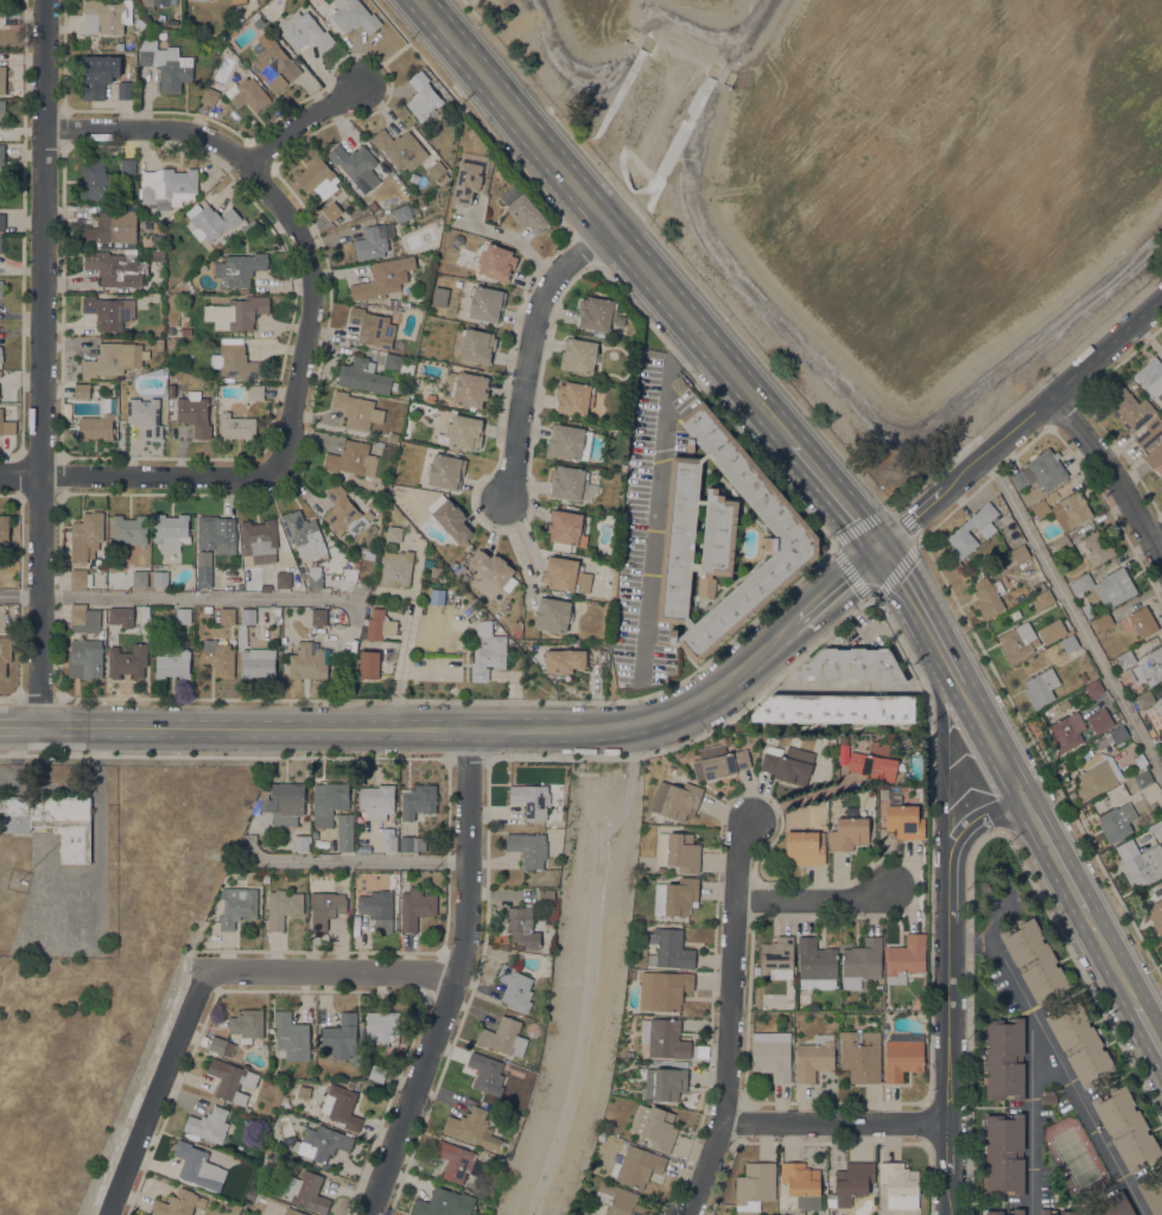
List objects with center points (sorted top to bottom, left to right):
building: (2, 1)
building: (237, 1)
building: (160, 2)
road: (471, 9)
building: (109, 14)
building: (2, 15)
building: (354, 15)
building: (139, 23)
road: (686, 30)
building: (305, 31)
road: (748, 34)
road: (640, 39)
building: (166, 63)
building: (273, 63)
road: (571, 71)
road: (723, 74)
building: (97, 75)
building: (2, 78)
building: (125, 90)
building: (247, 94)
building: (209, 96)
building: (423, 96)
building: (1, 107)
road: (514, 114)
road: (301, 122)
road: (150, 127)
building: (400, 147)
building: (1, 154)
building: (356, 165)
building: (128, 166)
building: (437, 171)
building: (215, 173)
building: (317, 178)
building: (96, 182)
building: (466, 182)
building: (169, 185)
building: (373, 205)
building: (523, 210)
building: (405, 211)
building: (332, 212)
building: (2, 221)
building: (212, 222)
building: (247, 225)
building: (113, 230)
road: (509, 237)
building: (157, 240)
building: (373, 241)
building: (0, 243)
building: (496, 261)
building: (114, 267)
building: (239, 269)
building: (382, 278)
building: (1, 288)
building: (485, 303)
road: (309, 307)
building: (108, 311)
building: (236, 312)
building: (596, 312)
building: (372, 326)
building: (186, 331)
road: (699, 333)
road: (745, 335)
building: (159, 343)
building: (476, 345)
road: (528, 346)
building: (0, 354)
building: (579, 355)
building: (113, 358)
building: (235, 360)
road: (40, 363)
building: (396, 363)
building: (363, 375)
building: (1150, 377)
building: (465, 388)
building: (81, 389)
building: (172, 390)
building: (255, 392)
road: (996, 395)
building: (430, 397)
building: (574, 397)
road: (853, 406)
building: (1129, 408)
building: (357, 409)
building: (145, 413)
building: (195, 413)
building: (97, 424)
road: (1020, 424)
building: (6, 425)
building: (236, 427)
building: (464, 432)
building: (1149, 432)
building: (68, 433)
building: (393, 437)
building: (569, 441)
building: (1154, 454)
building: (351, 458)
building: (1046, 467)
building: (446, 471)
road: (1113, 475)
road: (138, 476)
building: (1161, 477)
building: (1018, 478)
building: (567, 482)
road: (833, 492)
road: (654, 500)
building: (1041, 509)
building: (1071, 510)
building: (344, 511)
road: (883, 511)
building: (450, 517)
building: (4, 527)
building: (565, 529)
building: (127, 530)
building: (171, 530)
building: (303, 530)
building: (216, 533)
building: (393, 533)
building: (85, 534)
building: (959, 534)
road: (520, 537)
building: (723, 537)
building: (259, 540)
road: (1157, 541)
building: (1062, 543)
traffic signals: (877, 546)
building: (1098, 546)
building: (366, 552)
building: (1021, 553)
building: (204, 568)
building: (395, 568)
building: (494, 568)
building: (565, 574)
building: (315, 577)
building: (78, 578)
building: (139, 578)
building: (160, 578)
building: (284, 579)
road: (837, 583)
building: (1080, 584)
road: (906, 586)
building: (265, 587)
building: (1113, 587)
building: (989, 596)
road: (179, 598)
building: (1044, 598)
road: (871, 600)
building: (207, 609)
building: (1087, 610)
road: (1074, 611)
building: (552, 613)
building: (183, 615)
building: (120, 616)
building: (227, 616)
building: (319, 616)
building: (83, 618)
building: (1104, 621)
building: (1143, 621)
building: (377, 625)
building: (484, 628)
building: (1052, 631)
building: (1017, 641)
building: (1069, 643)
building: (253, 650)
building: (5, 654)
building: (487, 655)
road: (947, 656)
building: (218, 657)
building: (84, 659)
building: (564, 660)
building: (127, 661)
building: (306, 661)
building: (172, 662)
building: (369, 664)
building: (1143, 664)
building: (850, 666)
building: (1084, 676)
road: (938, 681)
building: (1041, 687)
building: (1094, 688)
building: (1145, 699)
building: (836, 708)
building: (1158, 708)
building: (1100, 720)
road: (21, 725)
road: (436, 729)
building: (1067, 731)
building: (1150, 731)
building: (1118, 732)
building: (1161, 736)
building: (830, 739)
road: (993, 739)
building: (688, 751)
building: (679, 755)
road: (469, 758)
road: (440, 759)
building: (874, 761)
building: (718, 762)
building: (787, 763)
building: (671, 768)
building: (1141, 772)
building: (1098, 775)
road: (951, 793)
building: (376, 800)
building: (531, 800)
building: (677, 800)
building: (284, 801)
building: (418, 801)
building: (329, 802)
building: (1161, 804)
road: (980, 815)
building: (903, 819)
building: (58, 821)
building: (1117, 821)
building: (15, 822)
building: (1156, 828)
building: (344, 832)
building: (849, 833)
building: (313, 838)
building: (301, 842)
building: (388, 842)
building: (412, 842)
building: (805, 846)
building: (528, 848)
building: (678, 851)
road: (1055, 853)
road: (357, 861)
building: (1139, 863)
building: (661, 869)
building: (239, 876)
building: (263, 878)
building: (350, 896)
building: (546, 896)
building: (677, 897)
road: (818, 901)
building: (237, 905)
building: (281, 907)
building: (415, 907)
building: (325, 908)
building: (377, 908)
building: (1156, 914)
building: (522, 925)
building: (671, 948)
building: (777, 956)
building: (906, 958)
road: (1112, 958)
building: (815, 959)
building: (1034, 960)
building: (862, 961)
road: (586, 967)
road: (332, 969)
road: (434, 973)
building: (631, 974)
road: (456, 979)
building: (515, 986)
building: (878, 987)
building: (663, 990)
road: (317, 991)
road: (731, 1019)
building: (247, 1023)
building: (382, 1025)
road: (1150, 1026)
road: (951, 1033)
building: (291, 1036)
building: (341, 1037)
building: (503, 1037)
building: (623, 1037)
building: (663, 1038)
road: (928, 1039)
building: (1080, 1044)
building: (221, 1045)
building: (620, 1049)
building: (772, 1054)
building: (861, 1055)
building: (903, 1055)
building: (813, 1057)
building: (1004, 1057)
road: (1059, 1058)
building: (377, 1073)
building: (487, 1073)
building: (520, 1073)
building: (230, 1080)
building: (665, 1082)
building: (304, 1092)
road: (157, 1093)
building: (1048, 1096)
building: (341, 1106)
road: (1030, 1112)
building: (208, 1124)
road: (837, 1124)
building: (655, 1126)
building: (1125, 1126)
building: (471, 1127)
building: (322, 1141)
road: (828, 1143)
building: (1004, 1153)
building: (457, 1160)
building: (198, 1165)
building: (636, 1165)
building: (502, 1168)
building: (853, 1181)
building: (801, 1183)
building: (755, 1184)
building: (900, 1184)
building: (306, 1190)
building: (1151, 1194)
building: (621, 1200)
building: (178, 1203)
building: (444, 1203)
building: (1112, 1206)
building: (576, 1210)
building: (293, 1211)
building: (995, 1211)
building: (1055, 1211)

